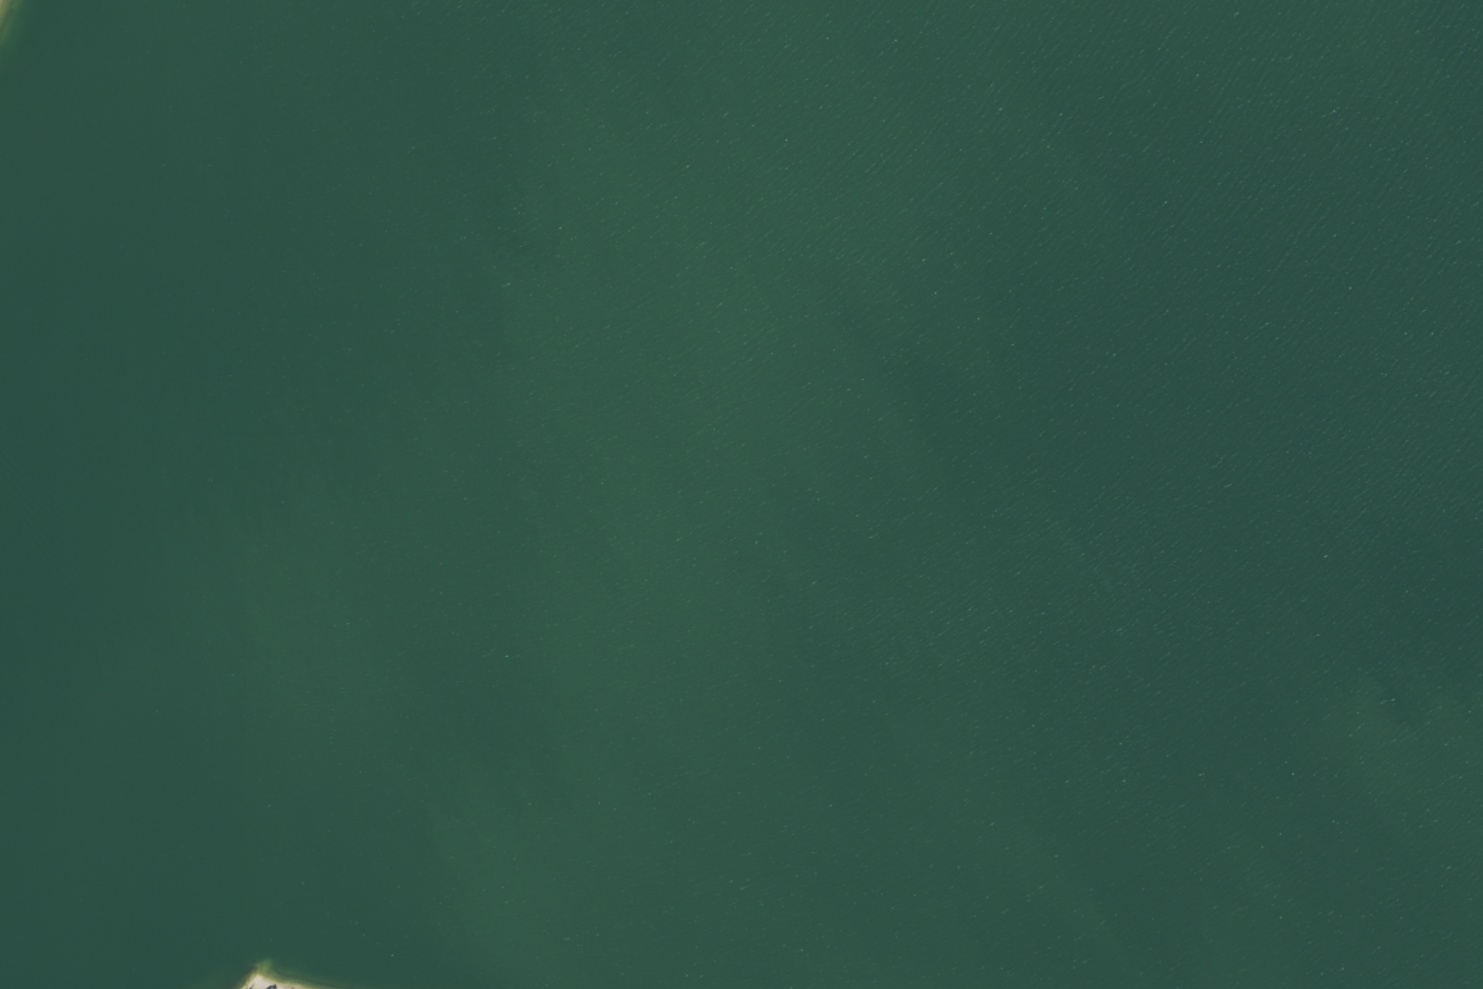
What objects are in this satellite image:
river: (1393, 80)

